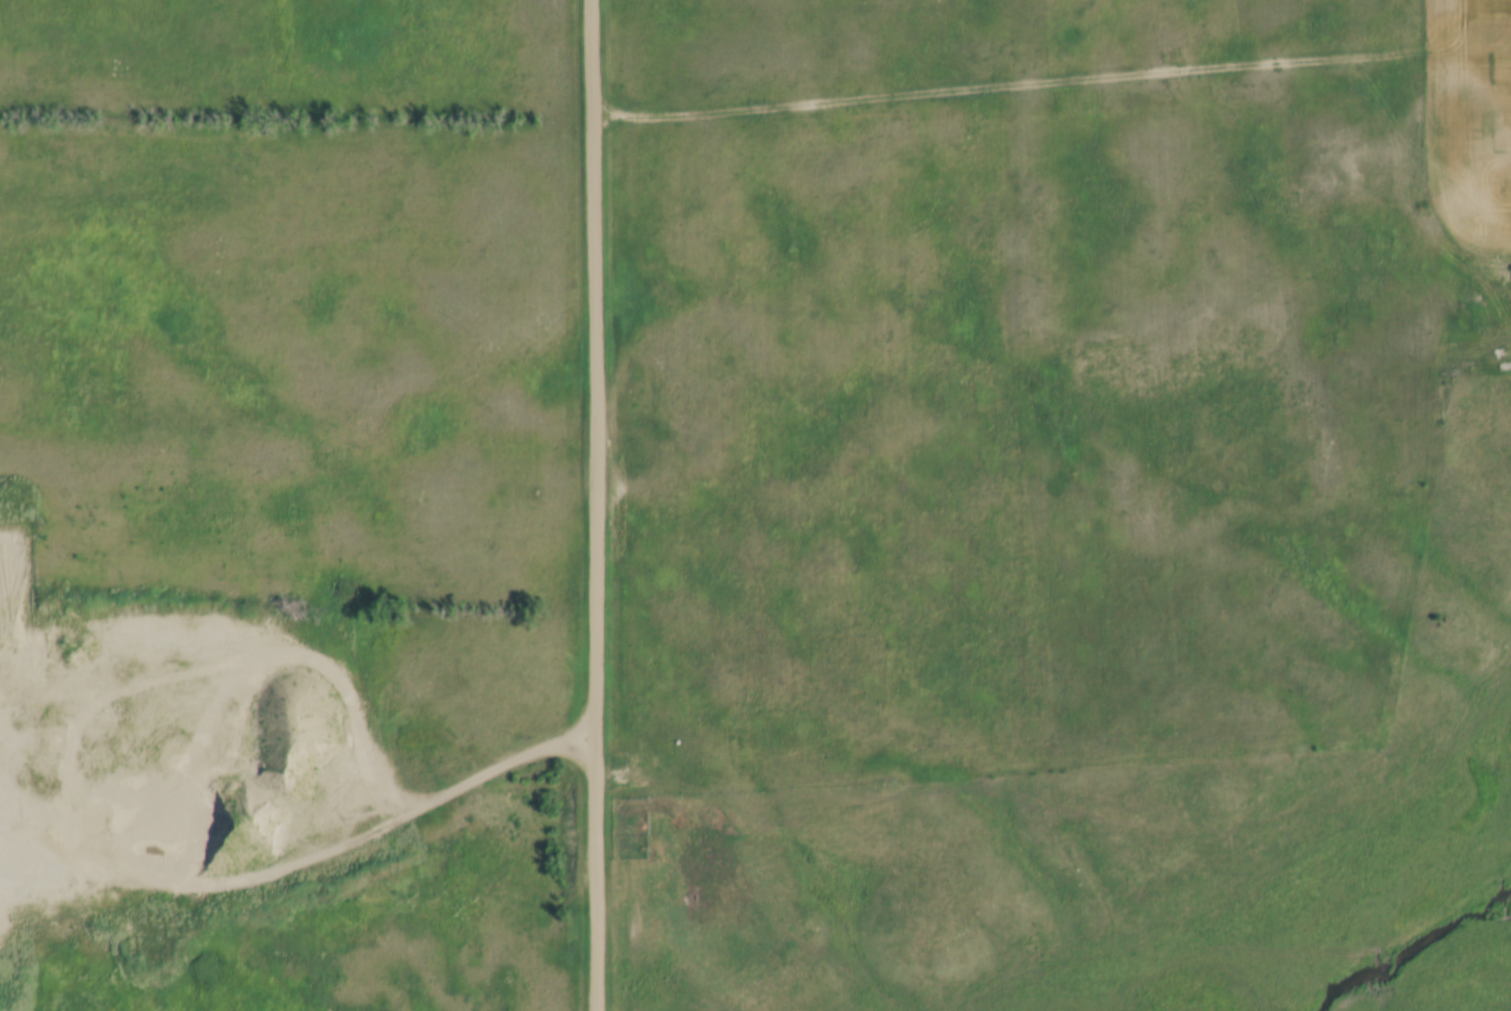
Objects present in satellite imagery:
road: (1016, 85)
road: (596, 505)
quarry: (44, 838)
road: (309, 856)

